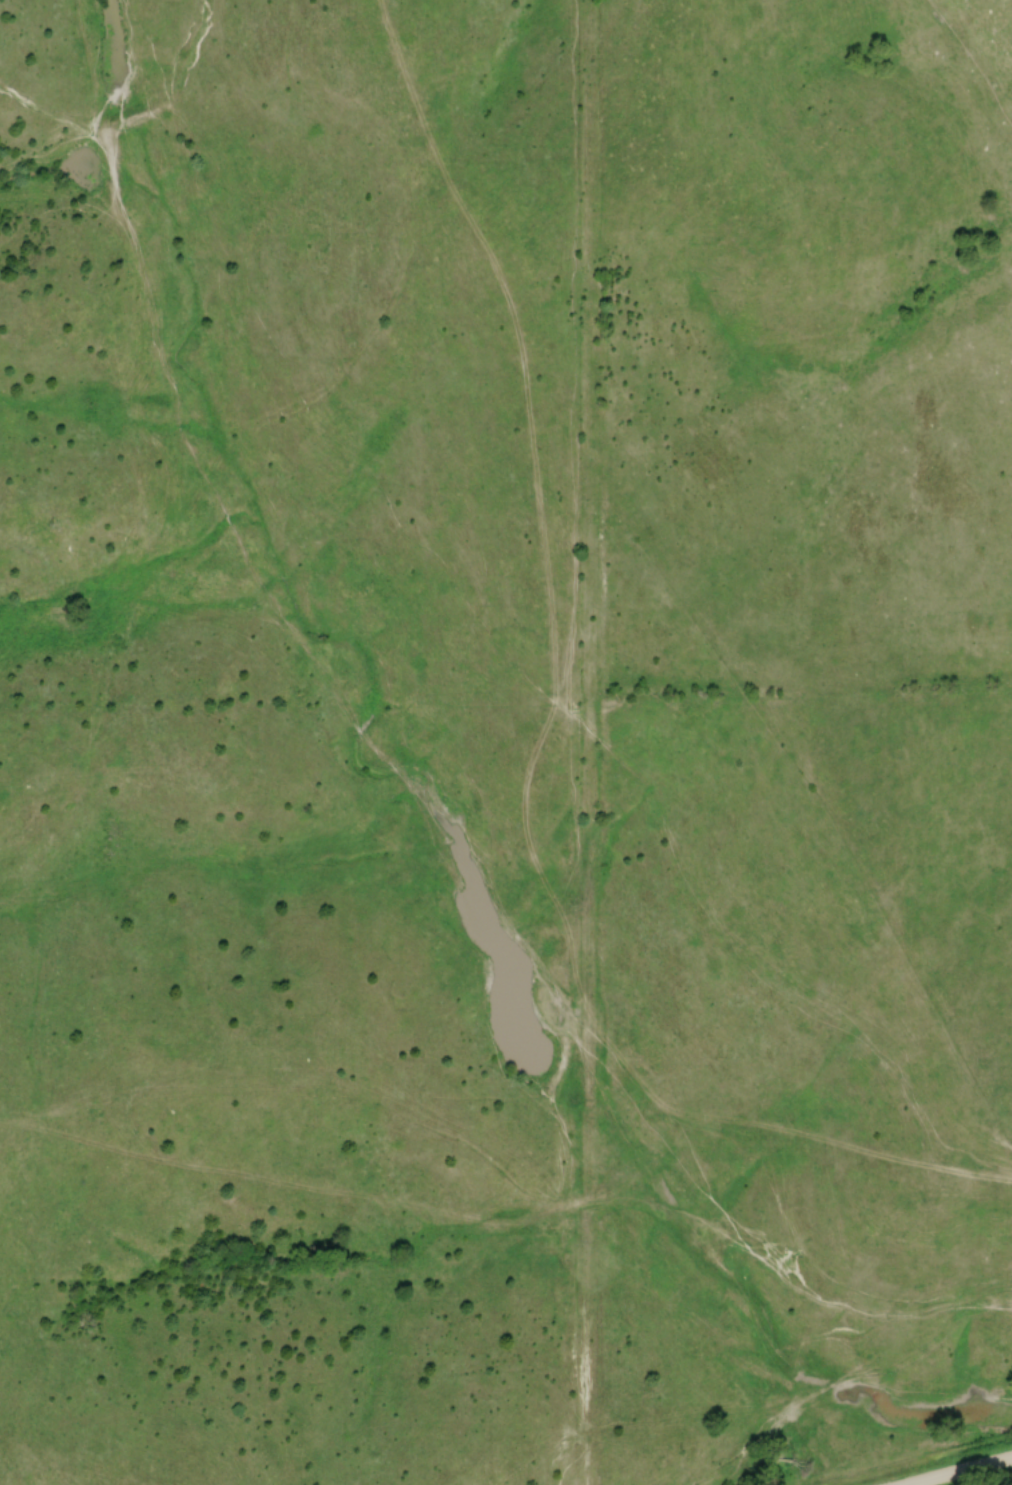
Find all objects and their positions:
road: (954, 1469)

